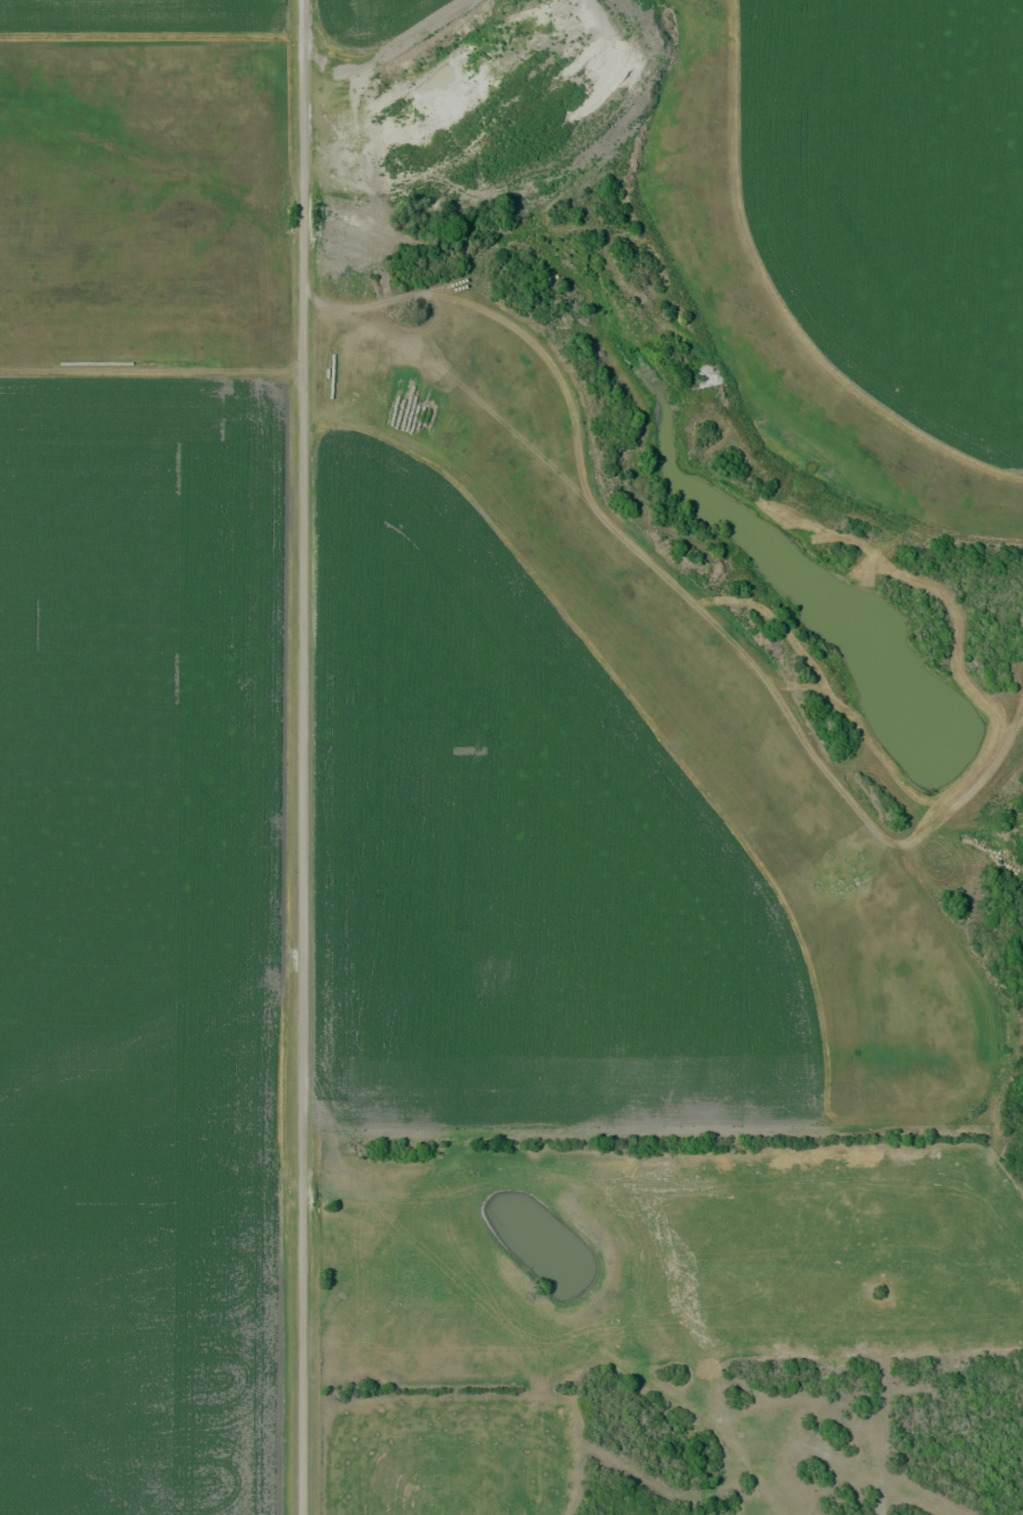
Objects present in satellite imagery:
road: (302, 757)

